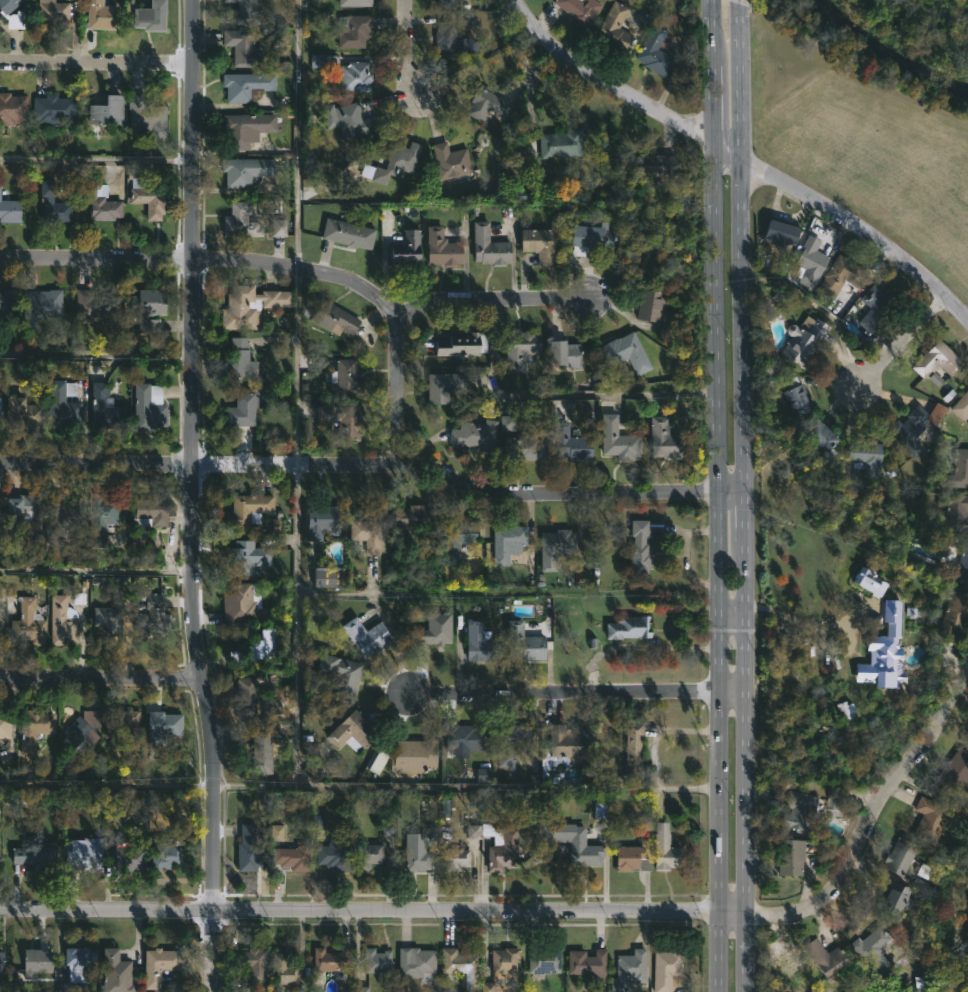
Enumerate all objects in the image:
road: (738, 1)
building: (356, 2)
building: (449, 3)
building: (9, 5)
building: (246, 10)
building: (580, 10)
building: (55, 13)
building: (101, 16)
building: (151, 16)
building: (14, 21)
park: (919, 26)
building: (616, 28)
building: (354, 30)
building: (454, 39)
building: (243, 49)
building: (656, 51)
road: (398, 53)
building: (325, 60)
road: (95, 65)
building: (357, 77)
building: (247, 86)
road: (619, 89)
building: (484, 106)
building: (12, 108)
building: (54, 109)
building: (108, 111)
park: (875, 114)
building: (148, 116)
building: (355, 121)
building: (244, 129)
road: (297, 135)
building: (562, 146)
building: (398, 161)
building: (452, 161)
building: (657, 166)
building: (247, 171)
building: (520, 195)
building: (149, 198)
building: (53, 204)
building: (101, 204)
building: (11, 210)
building: (241, 222)
building: (278, 227)
road: (859, 231)
building: (785, 233)
building: (350, 234)
building: (591, 236)
building: (540, 244)
building: (491, 247)
building: (408, 248)
building: (444, 249)
building: (813, 261)
road: (300, 271)
building: (841, 277)
building: (41, 305)
building: (652, 305)
building: (6, 306)
building: (878, 306)
building: (98, 307)
building: (247, 307)
building: (147, 308)
building: (335, 318)
building: (806, 340)
road: (900, 341)
building: (460, 345)
building: (524, 349)
building: (628, 353)
road: (95, 354)
building: (567, 354)
building: (939, 360)
building: (239, 365)
road: (297, 367)
building: (347, 380)
building: (444, 386)
road: (399, 389)
road: (547, 396)
building: (797, 398)
building: (64, 402)
building: (147, 404)
building: (962, 407)
building: (103, 408)
building: (0, 409)
building: (25, 413)
building: (244, 417)
building: (343, 419)
building: (506, 423)
building: (911, 431)
building: (464, 434)
building: (487, 434)
building: (822, 437)
building: (667, 439)
building: (619, 440)
building: (573, 444)
building: (523, 449)
road: (191, 455)
building: (870, 459)
road: (373, 464)
building: (958, 470)
road: (715, 495)
road: (741, 497)
building: (247, 511)
building: (956, 511)
building: (151, 512)
building: (25, 513)
building: (65, 513)
building: (104, 515)
building: (412, 519)
building: (323, 521)
building: (369, 532)
building: (459, 540)
building: (510, 543)
building: (557, 547)
building: (641, 549)
building: (246, 558)
building: (965, 563)
road: (96, 568)
building: (330, 578)
building: (869, 582)
road: (341, 594)
building: (243, 605)
building: (954, 614)
road: (729, 615)
building: (153, 617)
building: (108, 619)
road: (799, 620)
building: (63, 621)
building: (28, 623)
road: (297, 623)
building: (631, 628)
building: (436, 630)
building: (1, 632)
building: (872, 636)
building: (368, 637)
building: (526, 643)
building: (483, 644)
building: (262, 648)
building: (884, 672)
road: (99, 675)
building: (338, 677)
building: (249, 692)
road: (573, 697)
building: (270, 706)
building: (845, 709)
building: (5, 726)
building: (87, 726)
building: (164, 726)
building: (594, 727)
building: (35, 728)
building: (126, 730)
building: (355, 731)
building: (467, 737)
building: (512, 743)
building: (568, 747)
building: (635, 752)
building: (260, 753)
building: (415, 755)
building: (382, 756)
road: (653, 758)
building: (954, 773)
building: (482, 775)
road: (106, 783)
road: (436, 785)
building: (112, 798)
building: (837, 801)
building: (83, 802)
building: (600, 809)
building: (800, 809)
building: (933, 819)
building: (318, 822)
building: (642, 823)
building: (388, 828)
building: (472, 831)
building: (276, 832)
building: (575, 843)
building: (502, 846)
building: (249, 849)
building: (667, 849)
building: (423, 851)
building: (335, 854)
building: (373, 855)
building: (38, 856)
building: (84, 856)
building: (796, 856)
building: (901, 856)
building: (166, 857)
building: (293, 857)
building: (132, 858)
building: (456, 858)
building: (633, 859)
building: (898, 900)
road: (106, 911)
road: (654, 915)
road: (211, 951)
building: (874, 951)
building: (825, 957)
building: (82, 959)
building: (334, 959)
building: (546, 959)
building: (378, 961)
building: (2, 962)
building: (589, 962)
building: (418, 963)
building: (251, 964)
building: (463, 964)
building: (505, 964)
building: (160, 965)
building: (33, 967)
building: (631, 969)
building: (669, 969)
building: (286, 970)
building: (117, 971)
building: (489, 987)
building: (360, 989)

